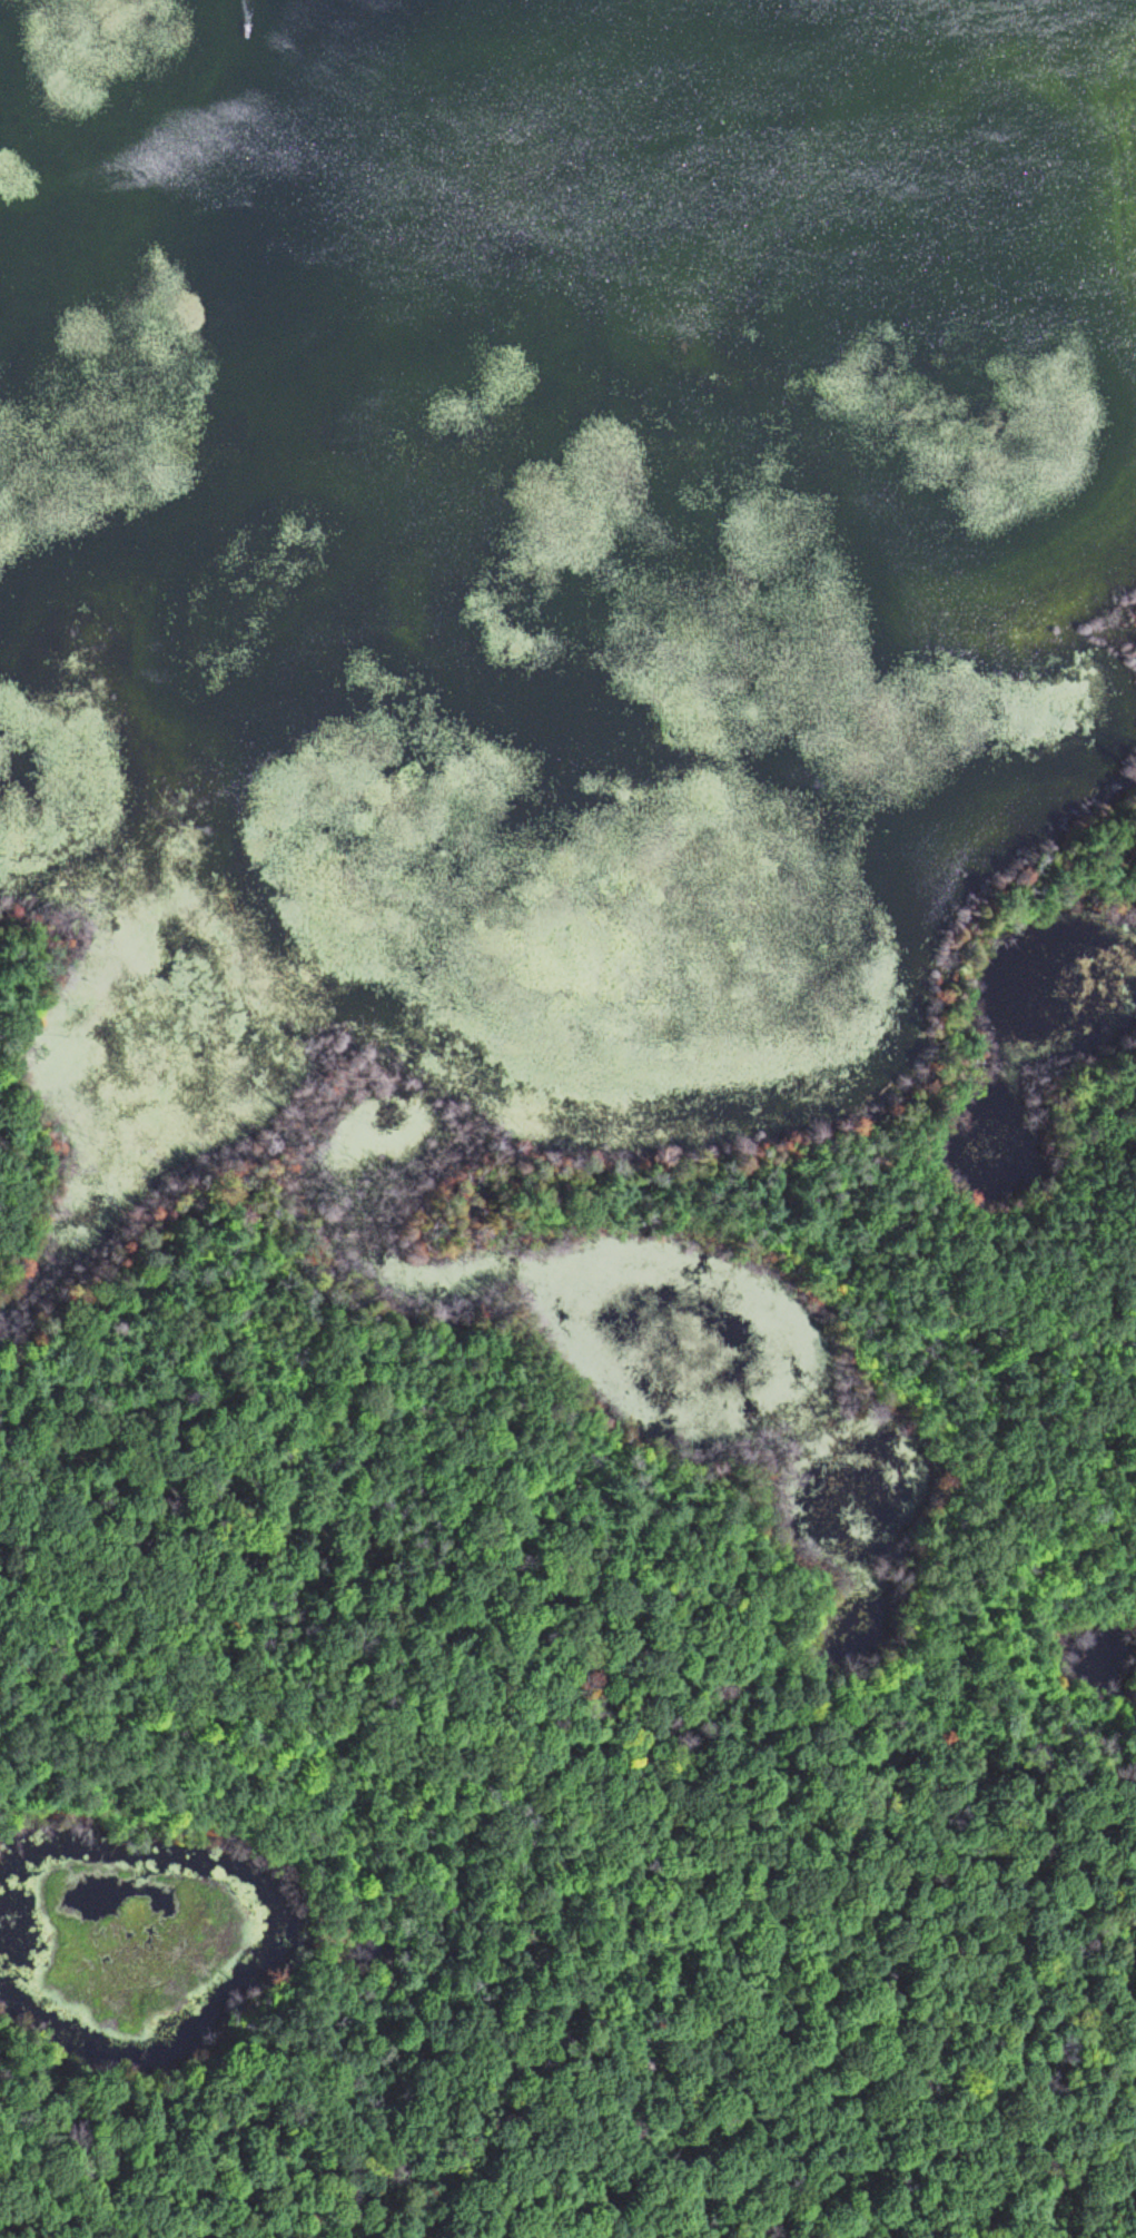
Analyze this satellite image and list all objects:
road: (202, 2168)

